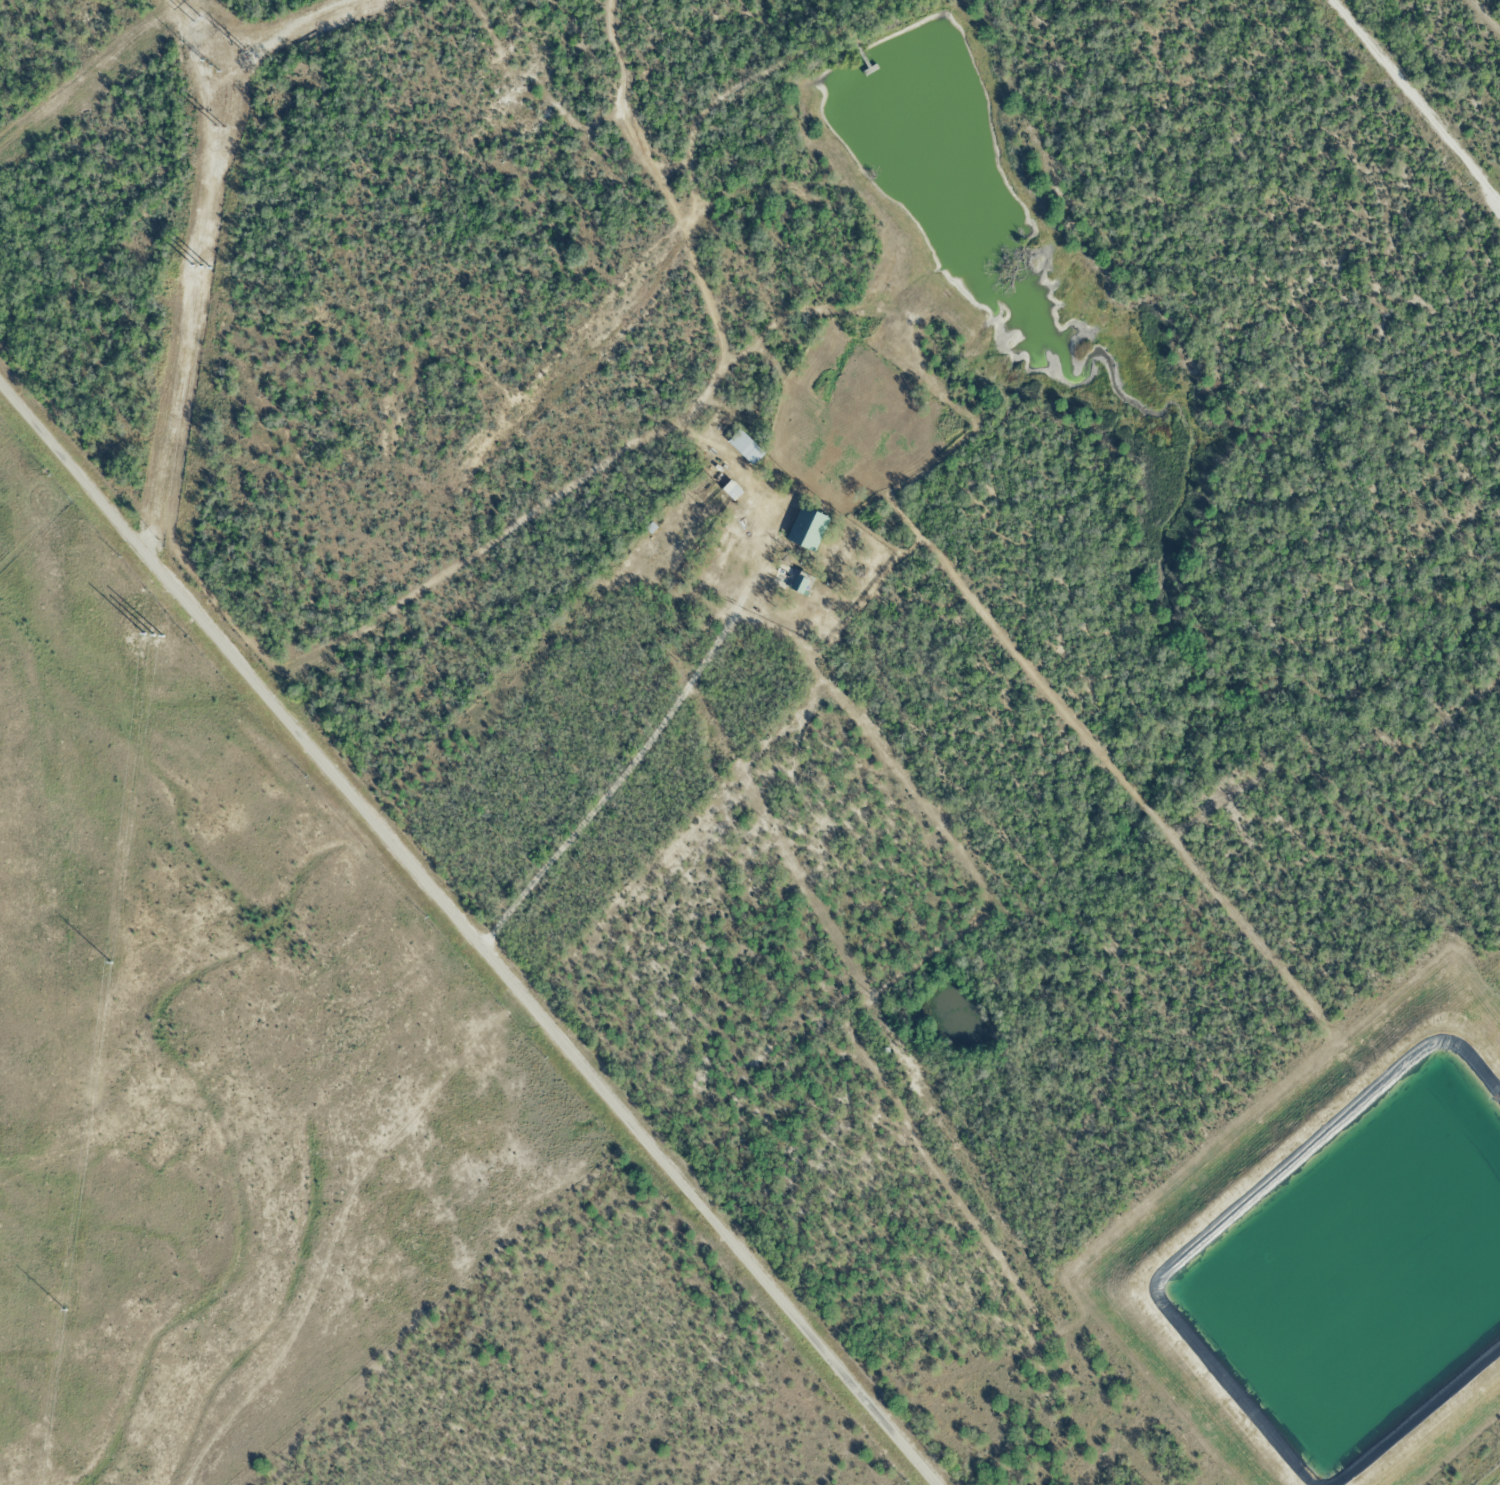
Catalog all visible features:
power tower: (196, 20)
power tower: (237, 54)
power tower: (205, 66)
road: (1419, 96)
power tower: (221, 115)
power tower: (203, 263)
building: (742, 448)
building: (729, 491)
building: (804, 530)
building: (789, 580)
power tower: (155, 608)
road: (465, 936)
power tower: (110, 957)
power tower: (64, 1303)

